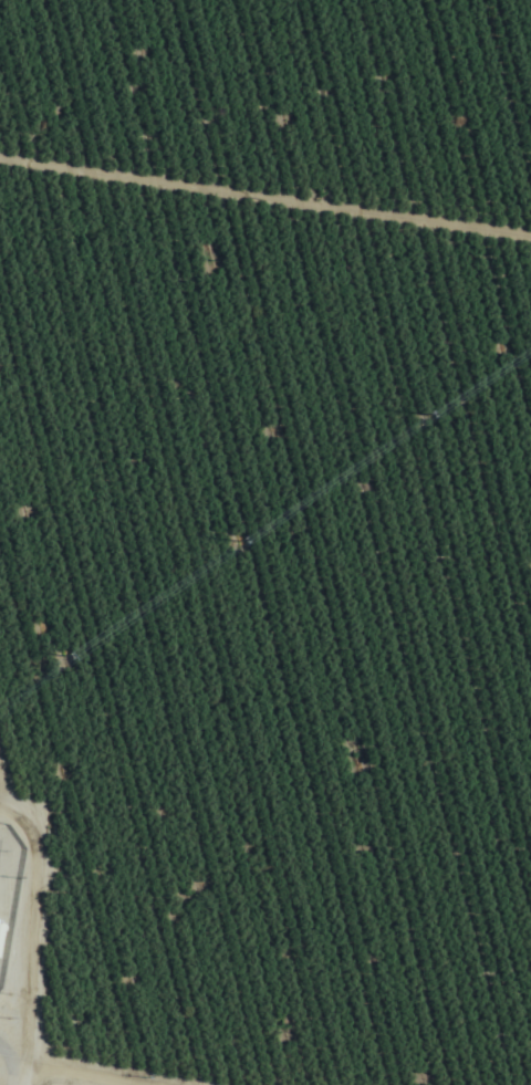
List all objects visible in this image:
crop: (267, 539)
road: (17, 1076)
road: (23, 1084)

